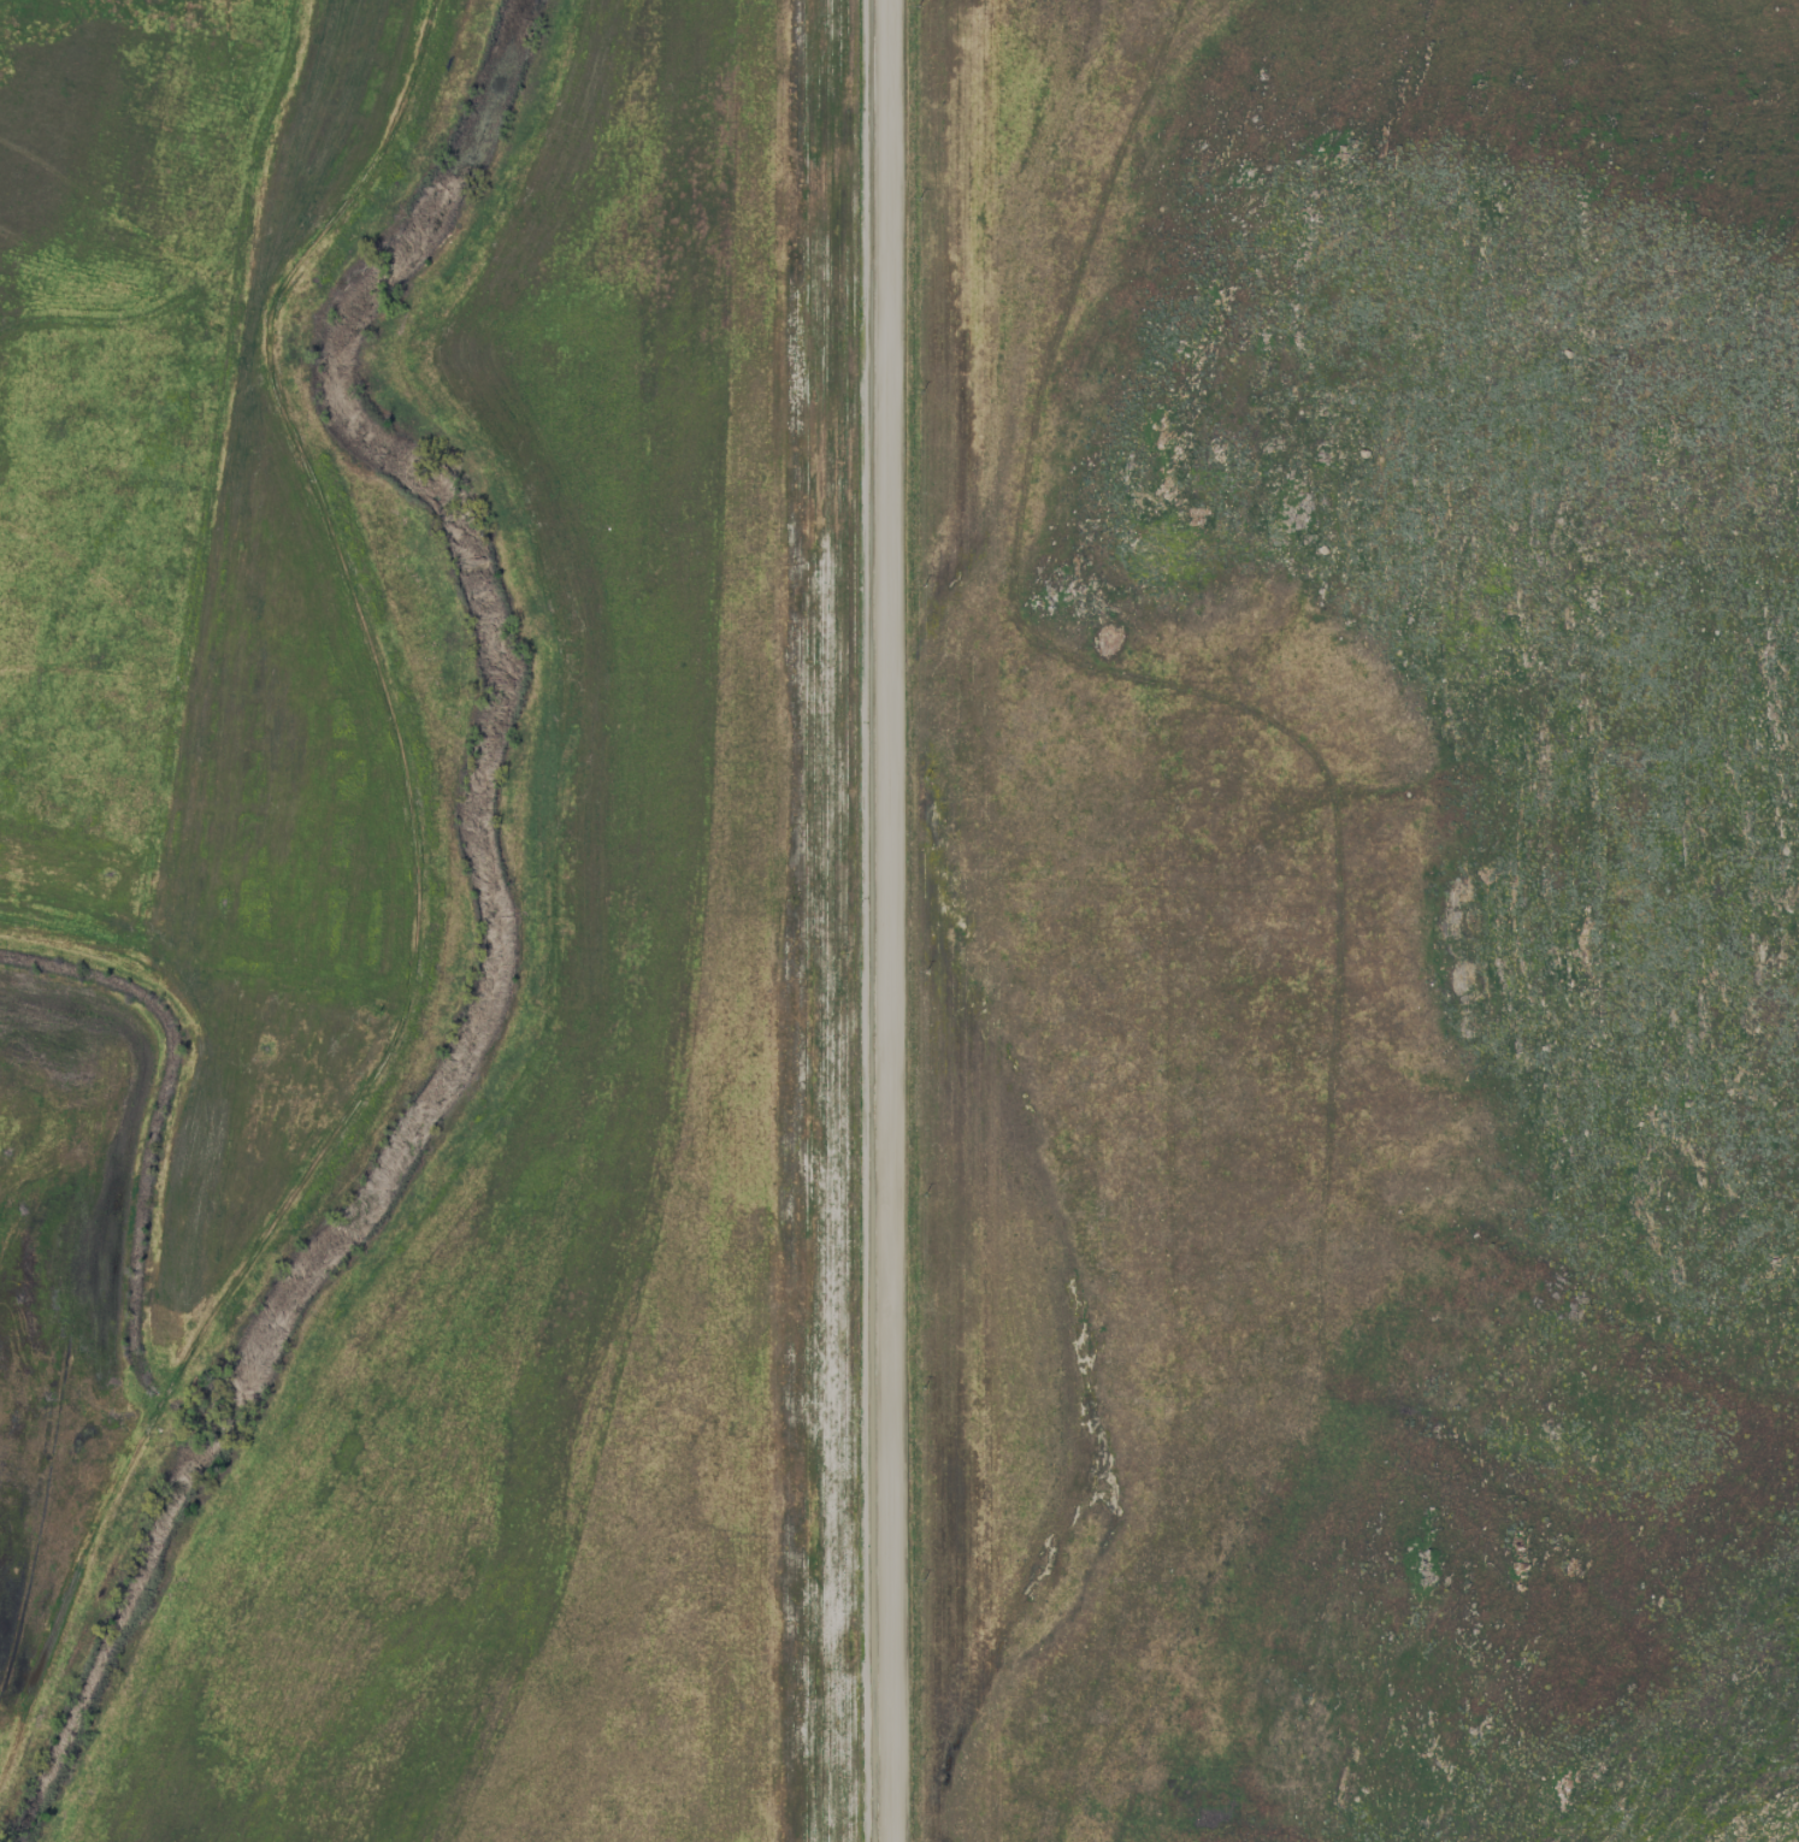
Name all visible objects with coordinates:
road: (890, 921)

